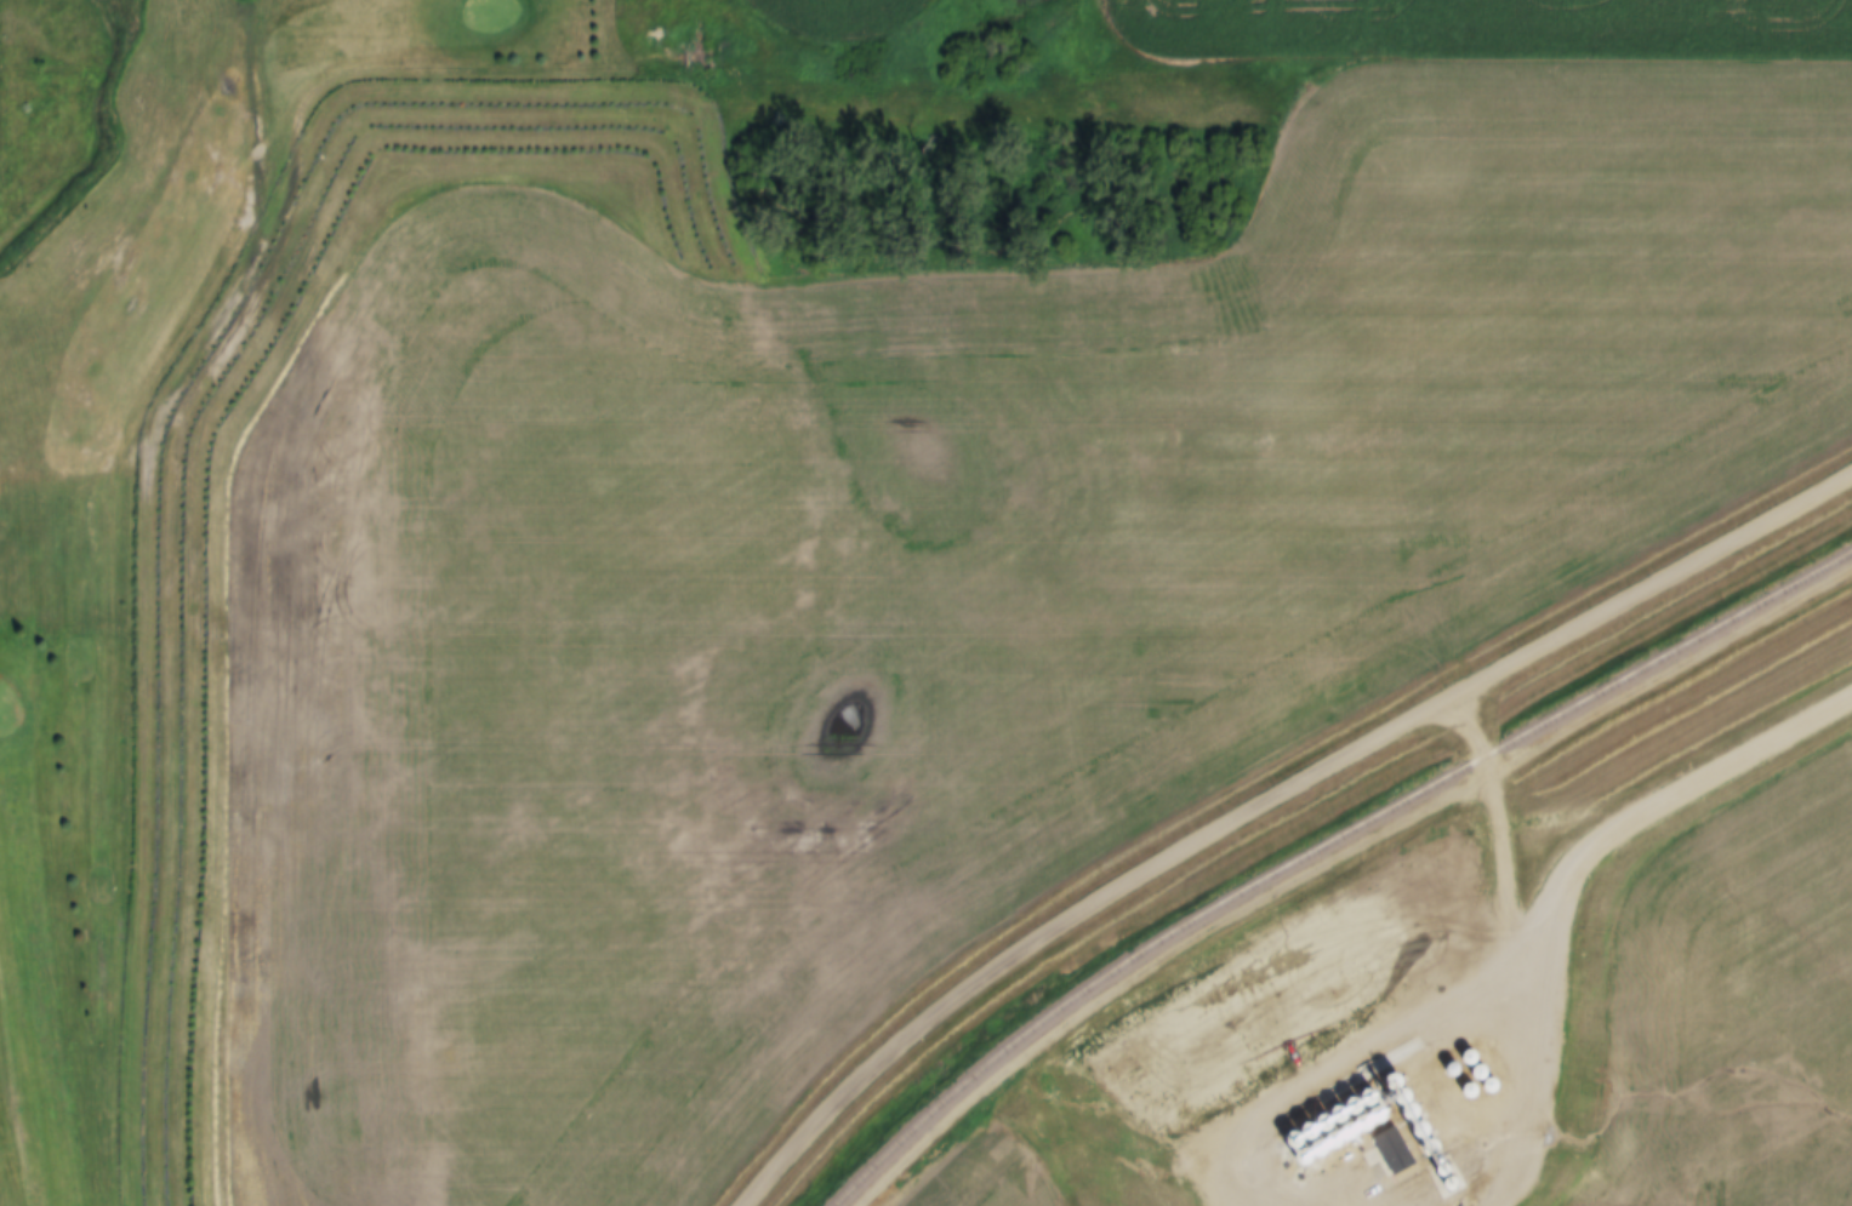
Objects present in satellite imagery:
park: (135, 450)
road: (1270, 800)
railway: (1322, 848)

